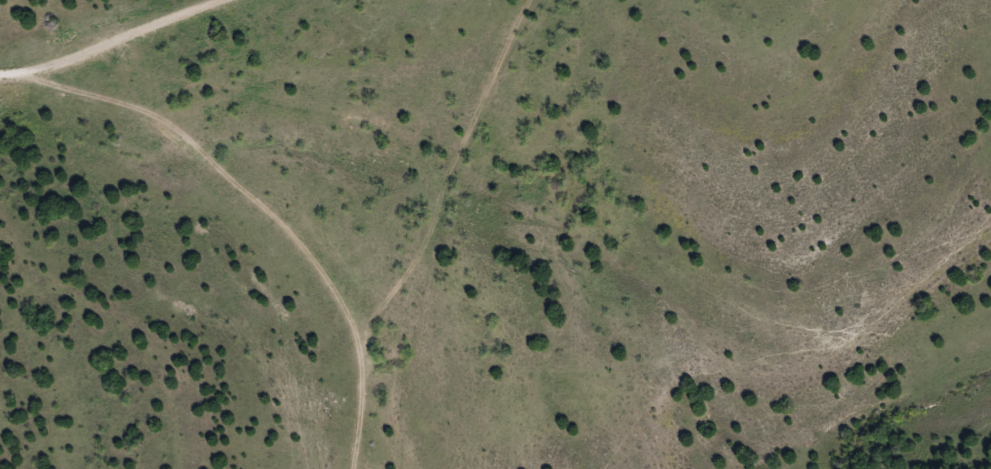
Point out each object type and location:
road: (46, 8)

